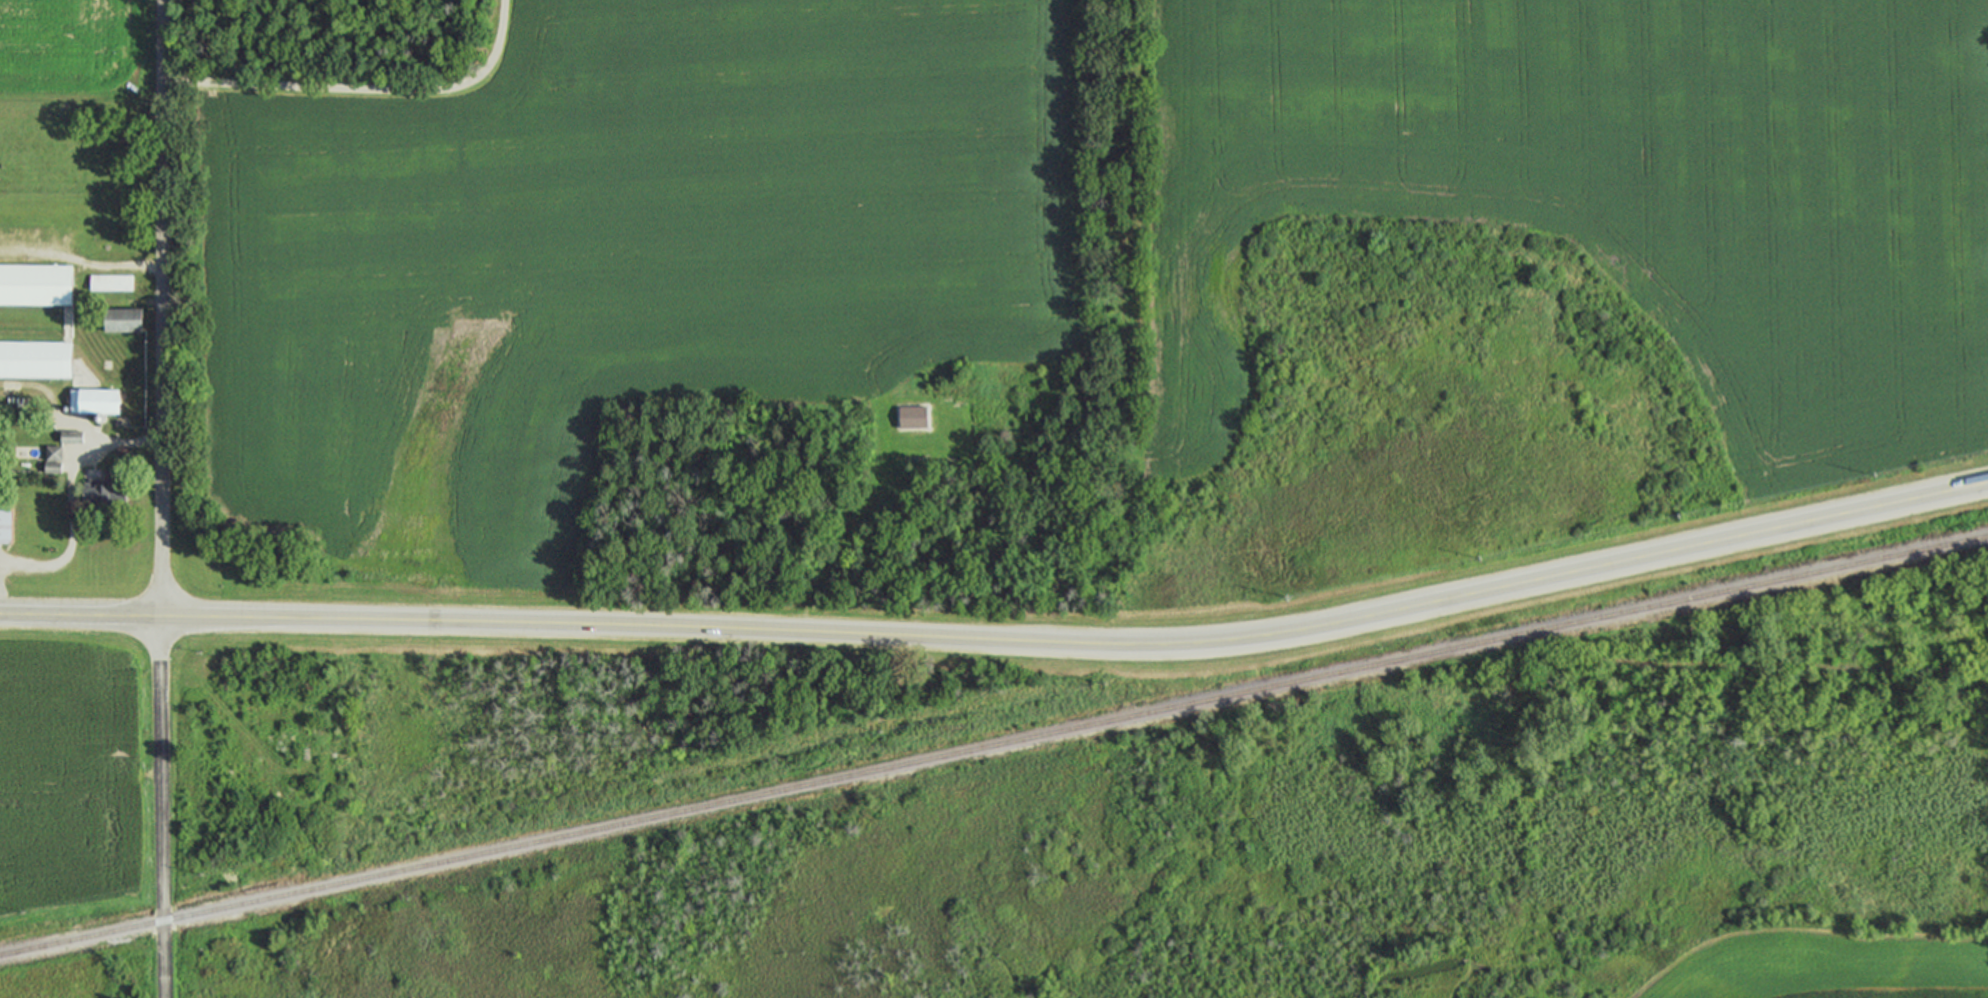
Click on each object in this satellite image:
road: (360, 84)
road: (81, 95)
road: (80, 260)
building: (34, 283)
building: (108, 283)
road: (162, 307)
building: (121, 318)
building: (34, 358)
building: (92, 399)
road: (56, 409)
building: (70, 436)
building: (51, 452)
road: (924, 458)
building: (50, 467)
building: (102, 488)
road: (68, 495)
building: (4, 517)
road: (79, 613)
road: (1081, 642)
road: (1773, 666)
railway: (994, 744)
road: (160, 806)

